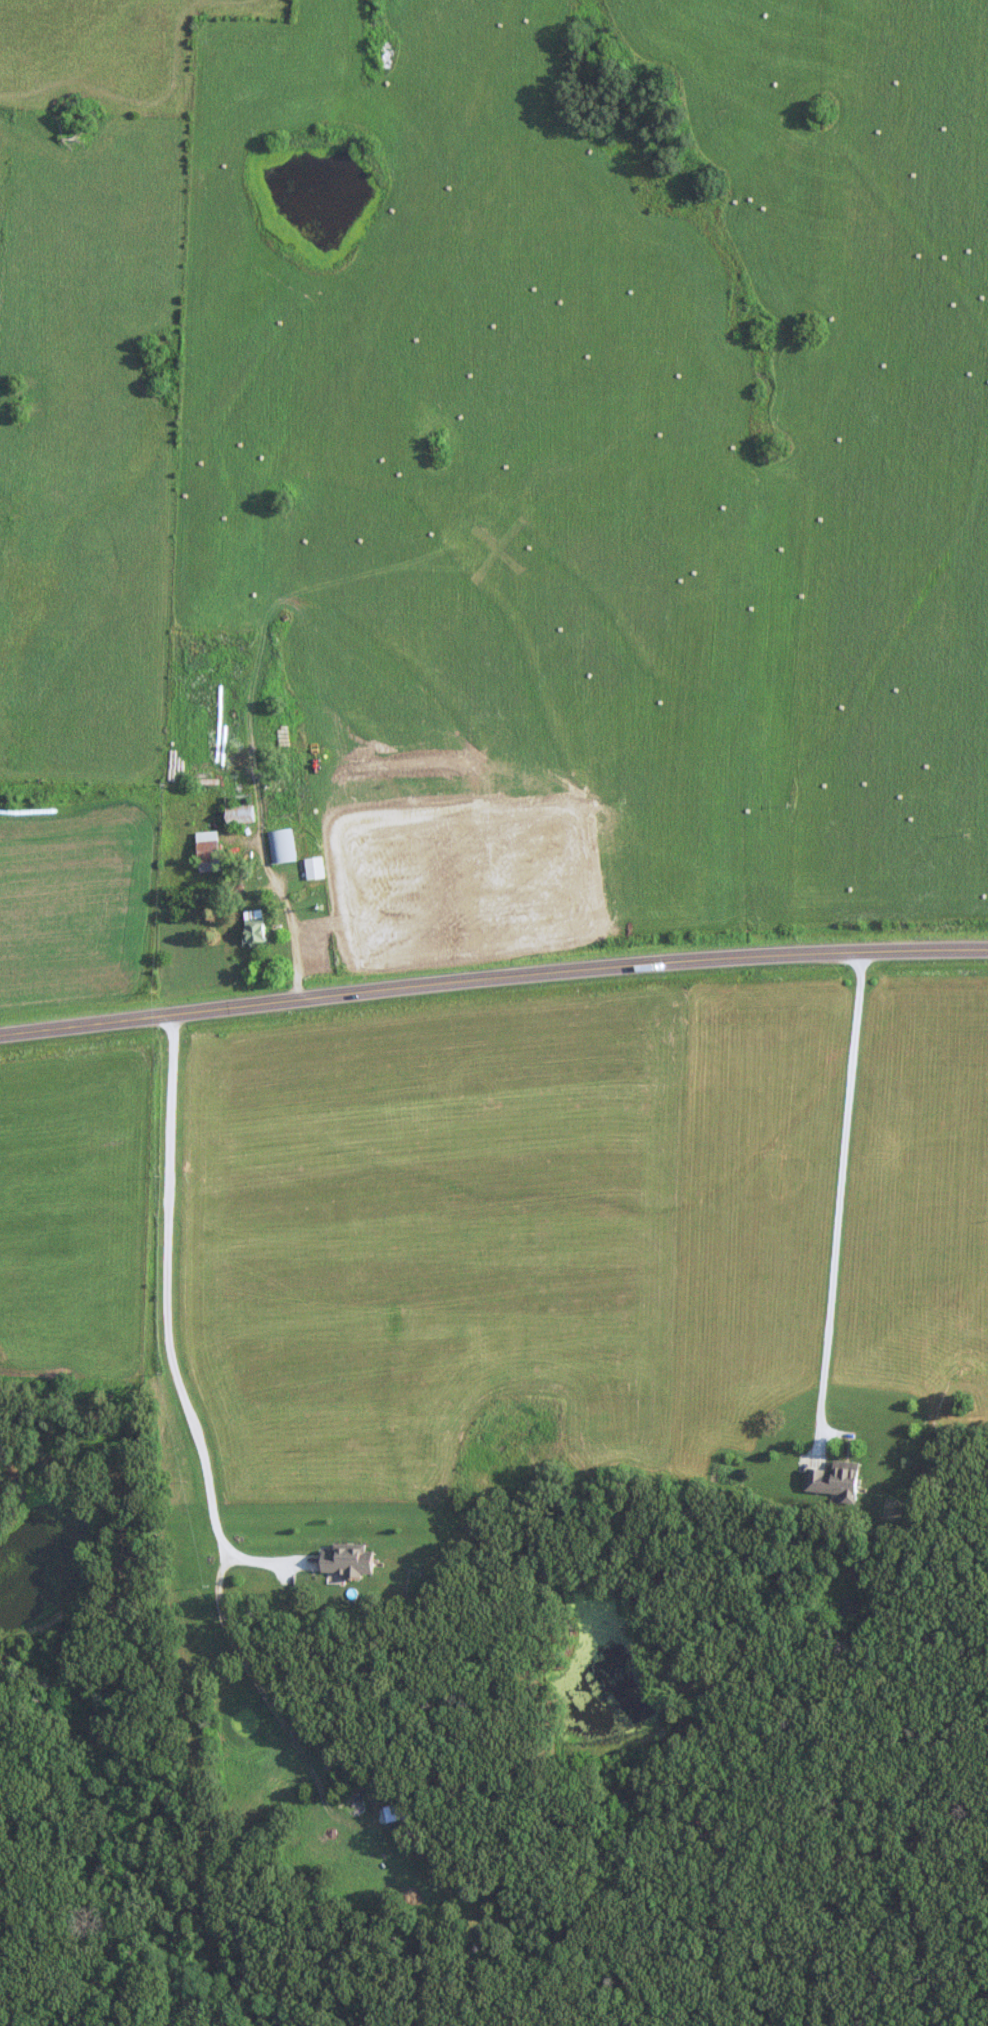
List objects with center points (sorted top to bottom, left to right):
building: (238, 814)
building: (281, 845)
building: (207, 851)
building: (313, 867)
building: (254, 928)
road: (493, 977)
road: (839, 1195)
road: (167, 1323)
building: (831, 1480)
building: (344, 1559)

